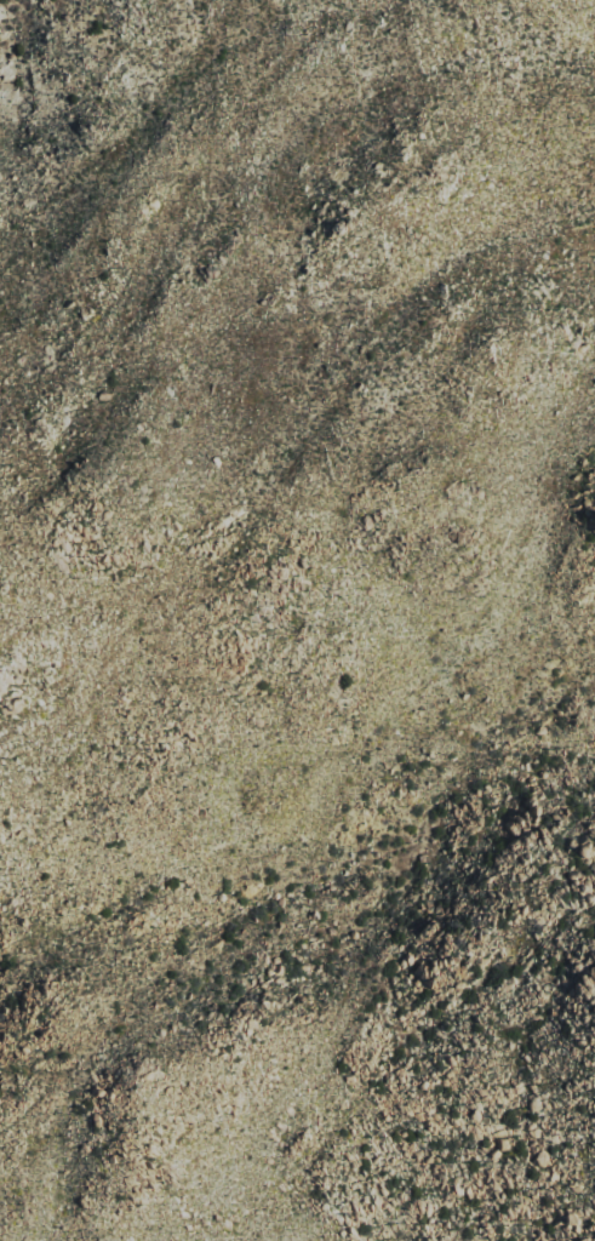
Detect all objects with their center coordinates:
park: (40, 1185)

